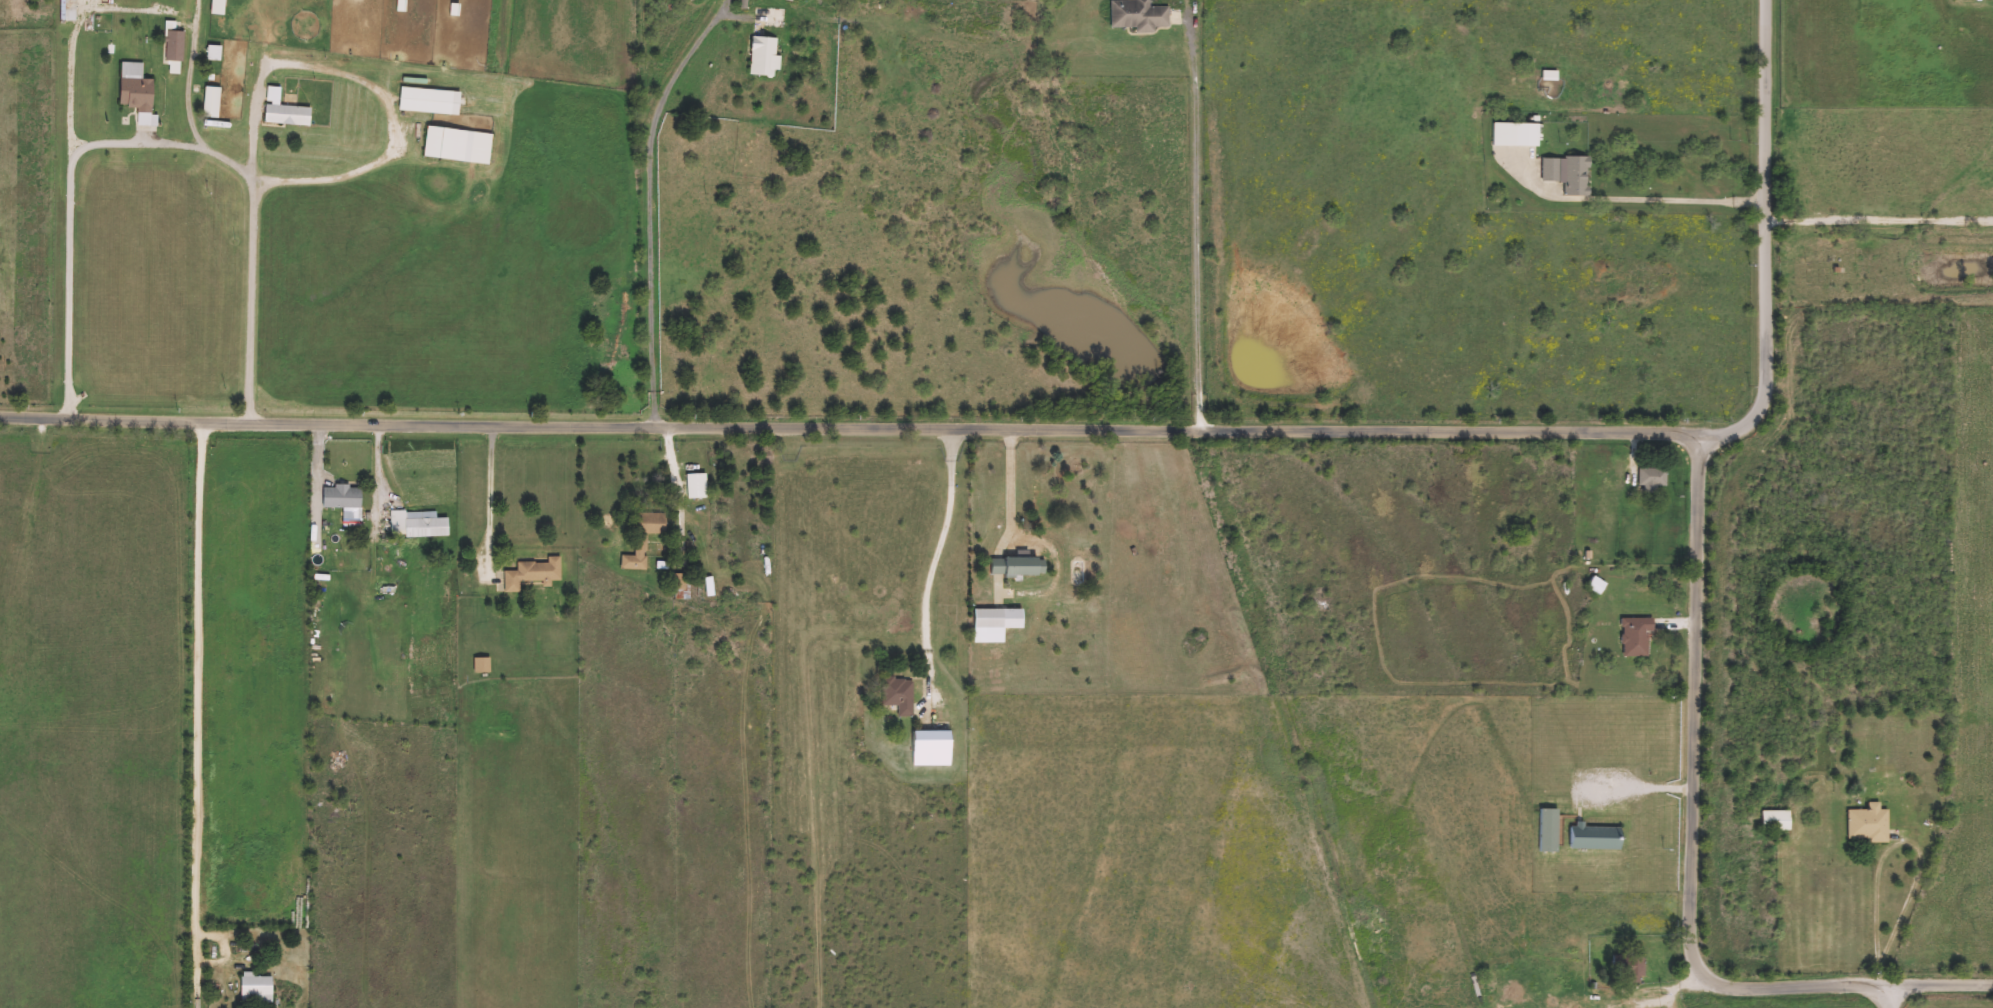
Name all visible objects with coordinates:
building: (219, 7)
building: (1139, 15)
road: (76, 34)
building: (215, 53)
building: (765, 57)
road: (263, 79)
building: (139, 95)
building: (430, 101)
building: (212, 102)
road: (194, 104)
building: (285, 111)
building: (1516, 135)
building: (459, 145)
building: (1552, 170)
building: (1579, 176)
road: (1629, 202)
road: (1882, 202)
road: (652, 204)
road: (70, 213)
road: (1199, 229)
road: (1093, 432)
building: (1654, 475)
road: (1011, 482)
building: (697, 485)
building: (343, 495)
road: (490, 505)
building: (419, 523)
building: (645, 538)
building: (1019, 565)
road: (935, 569)
building: (534, 573)
building: (682, 585)
building: (1598, 585)
building: (996, 622)
building: (1638, 635)
building: (483, 665)
building: (326, 682)
building: (483, 689)
building: (900, 694)
road: (197, 695)
building: (933, 747)
road: (1640, 792)
building: (338, 807)
building: (1777, 819)
building: (1869, 824)
building: (1550, 829)
building: (1598, 836)
road: (1900, 843)
road: (1697, 851)
building: (1630, 967)
building: (258, 989)
road: (1881, 991)

